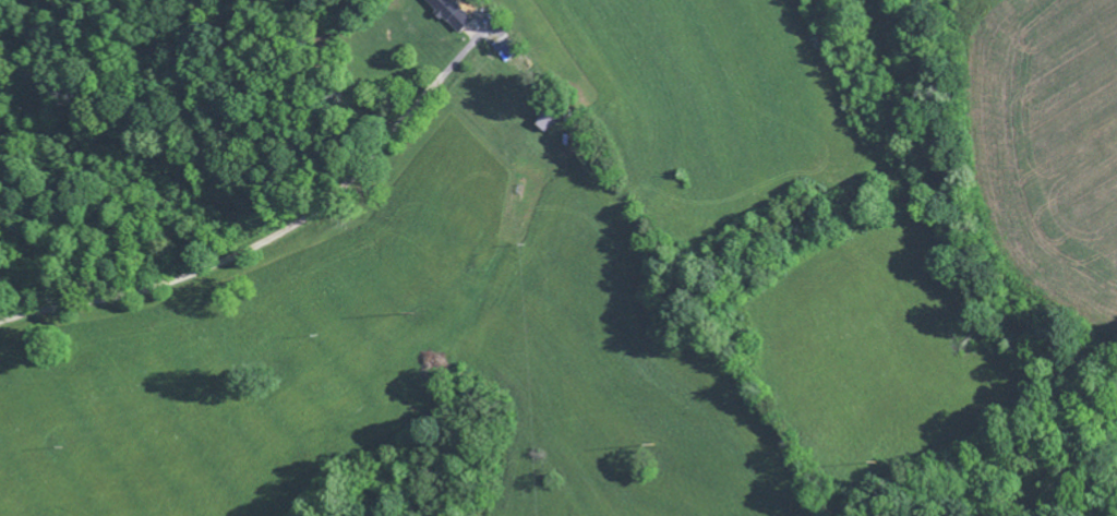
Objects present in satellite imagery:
building: (451, 15)
building: (551, 123)

